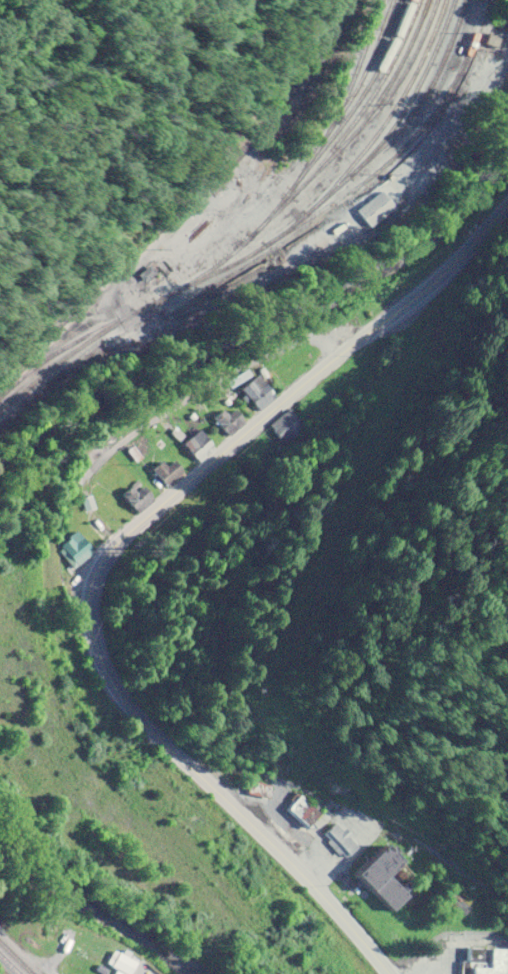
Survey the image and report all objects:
railway: (187, 205)
building: (381, 208)
road: (213, 377)
building: (261, 391)
building: (232, 420)
building: (199, 442)
building: (170, 471)
building: (139, 498)
building: (194, 501)
building: (80, 547)
road: (105, 557)
road: (365, 782)
building: (261, 788)
building: (312, 810)
building: (345, 840)
building: (387, 876)
road: (27, 949)
building: (487, 961)
railway: (9, 963)
building: (126, 964)

